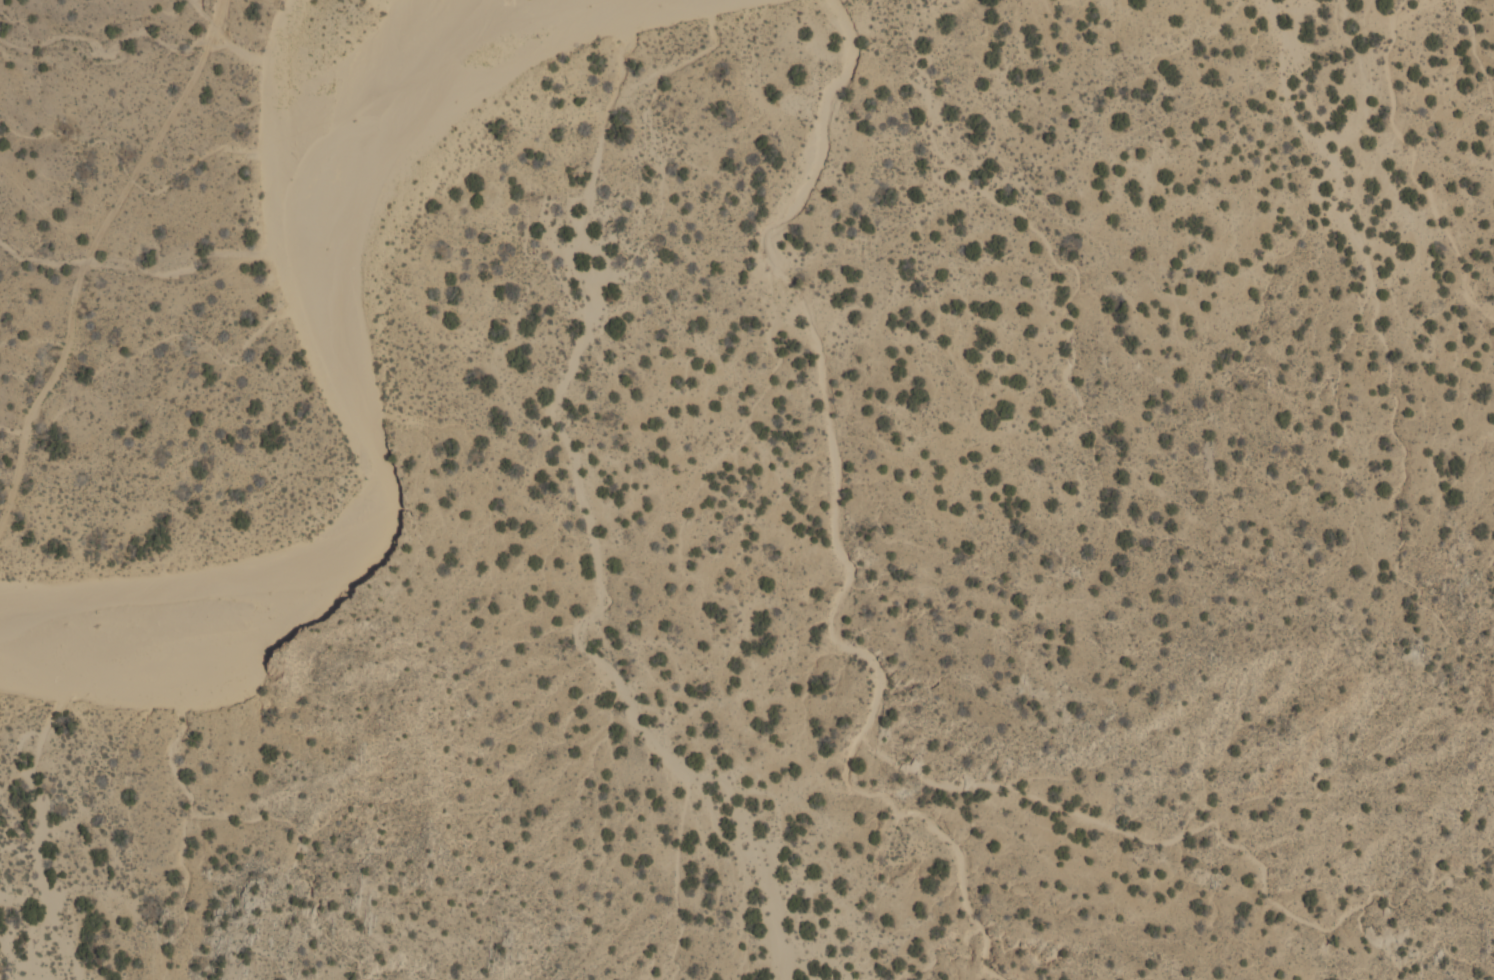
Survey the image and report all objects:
road: (93, 249)

